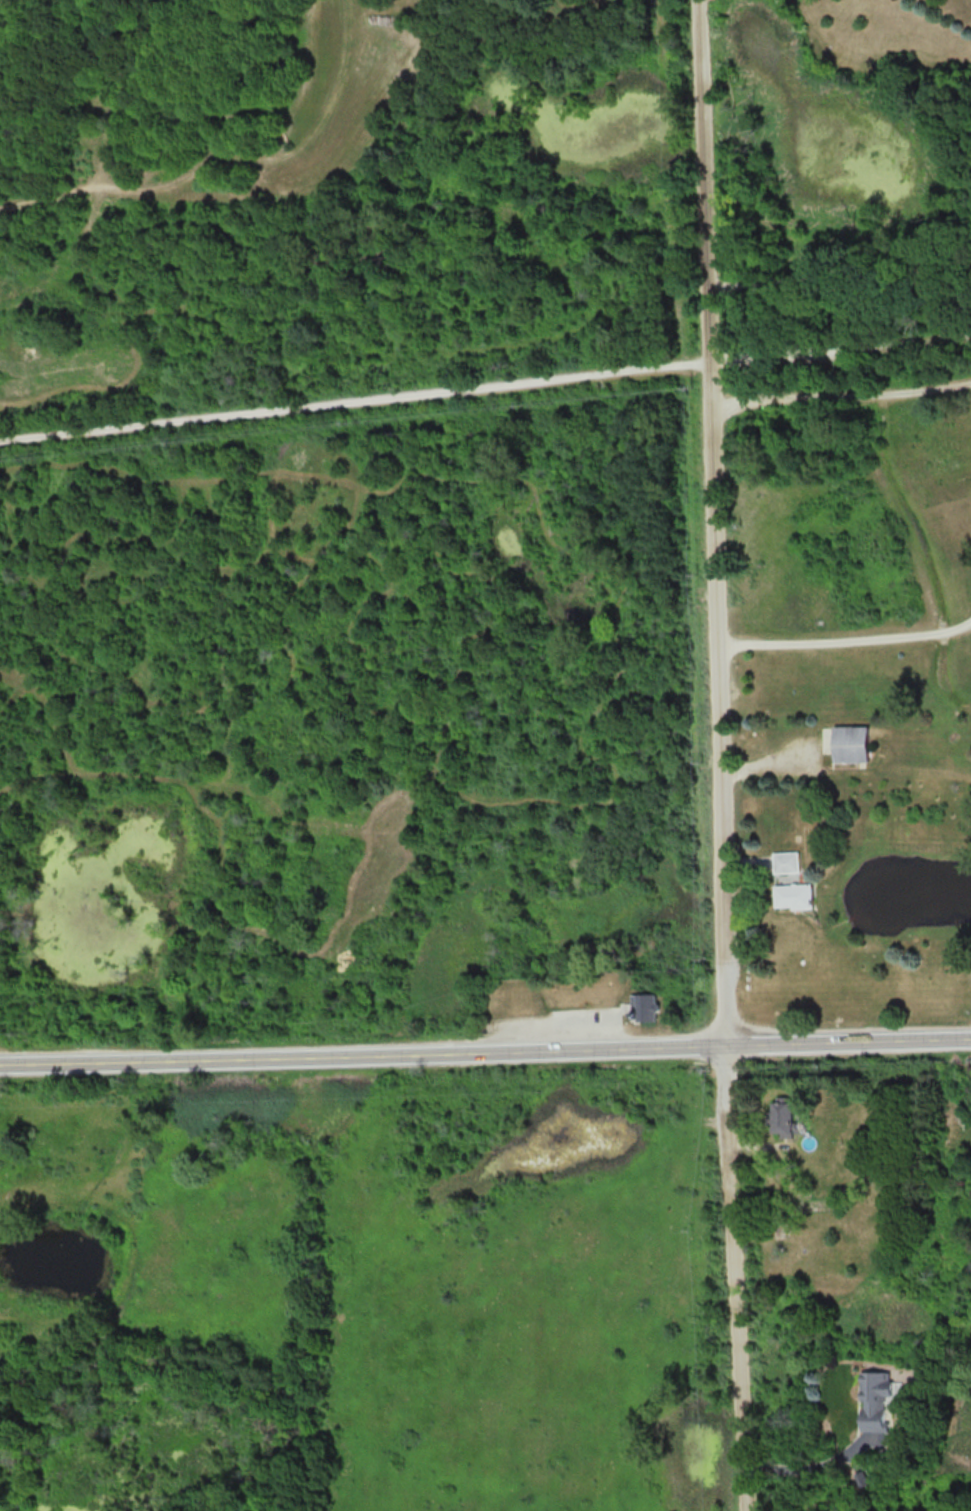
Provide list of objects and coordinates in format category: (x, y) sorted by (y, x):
road: (838, 270)
parking lot: (776, 356)
park: (485, 386)
road: (485, 387)
road: (840, 398)
road: (844, 642)
building: (851, 743)
road: (717, 755)
building: (785, 861)
building: (792, 895)
building: (643, 1006)
road: (485, 1054)
building: (784, 1117)
building: (874, 1400)
road: (807, 1467)

